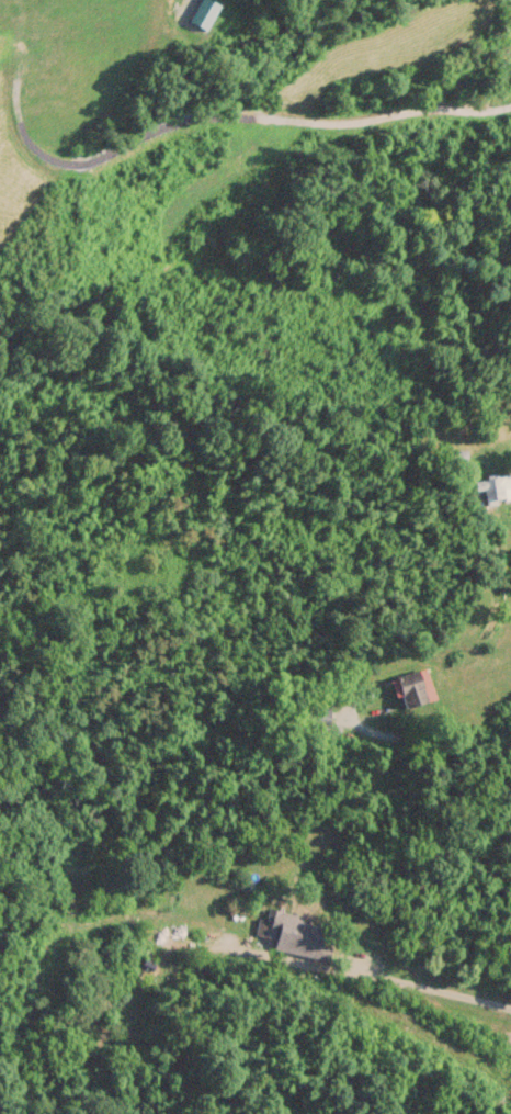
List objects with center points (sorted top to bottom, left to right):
building: (495, 490)
building: (416, 687)
building: (264, 927)
building: (295, 934)
road: (406, 983)

